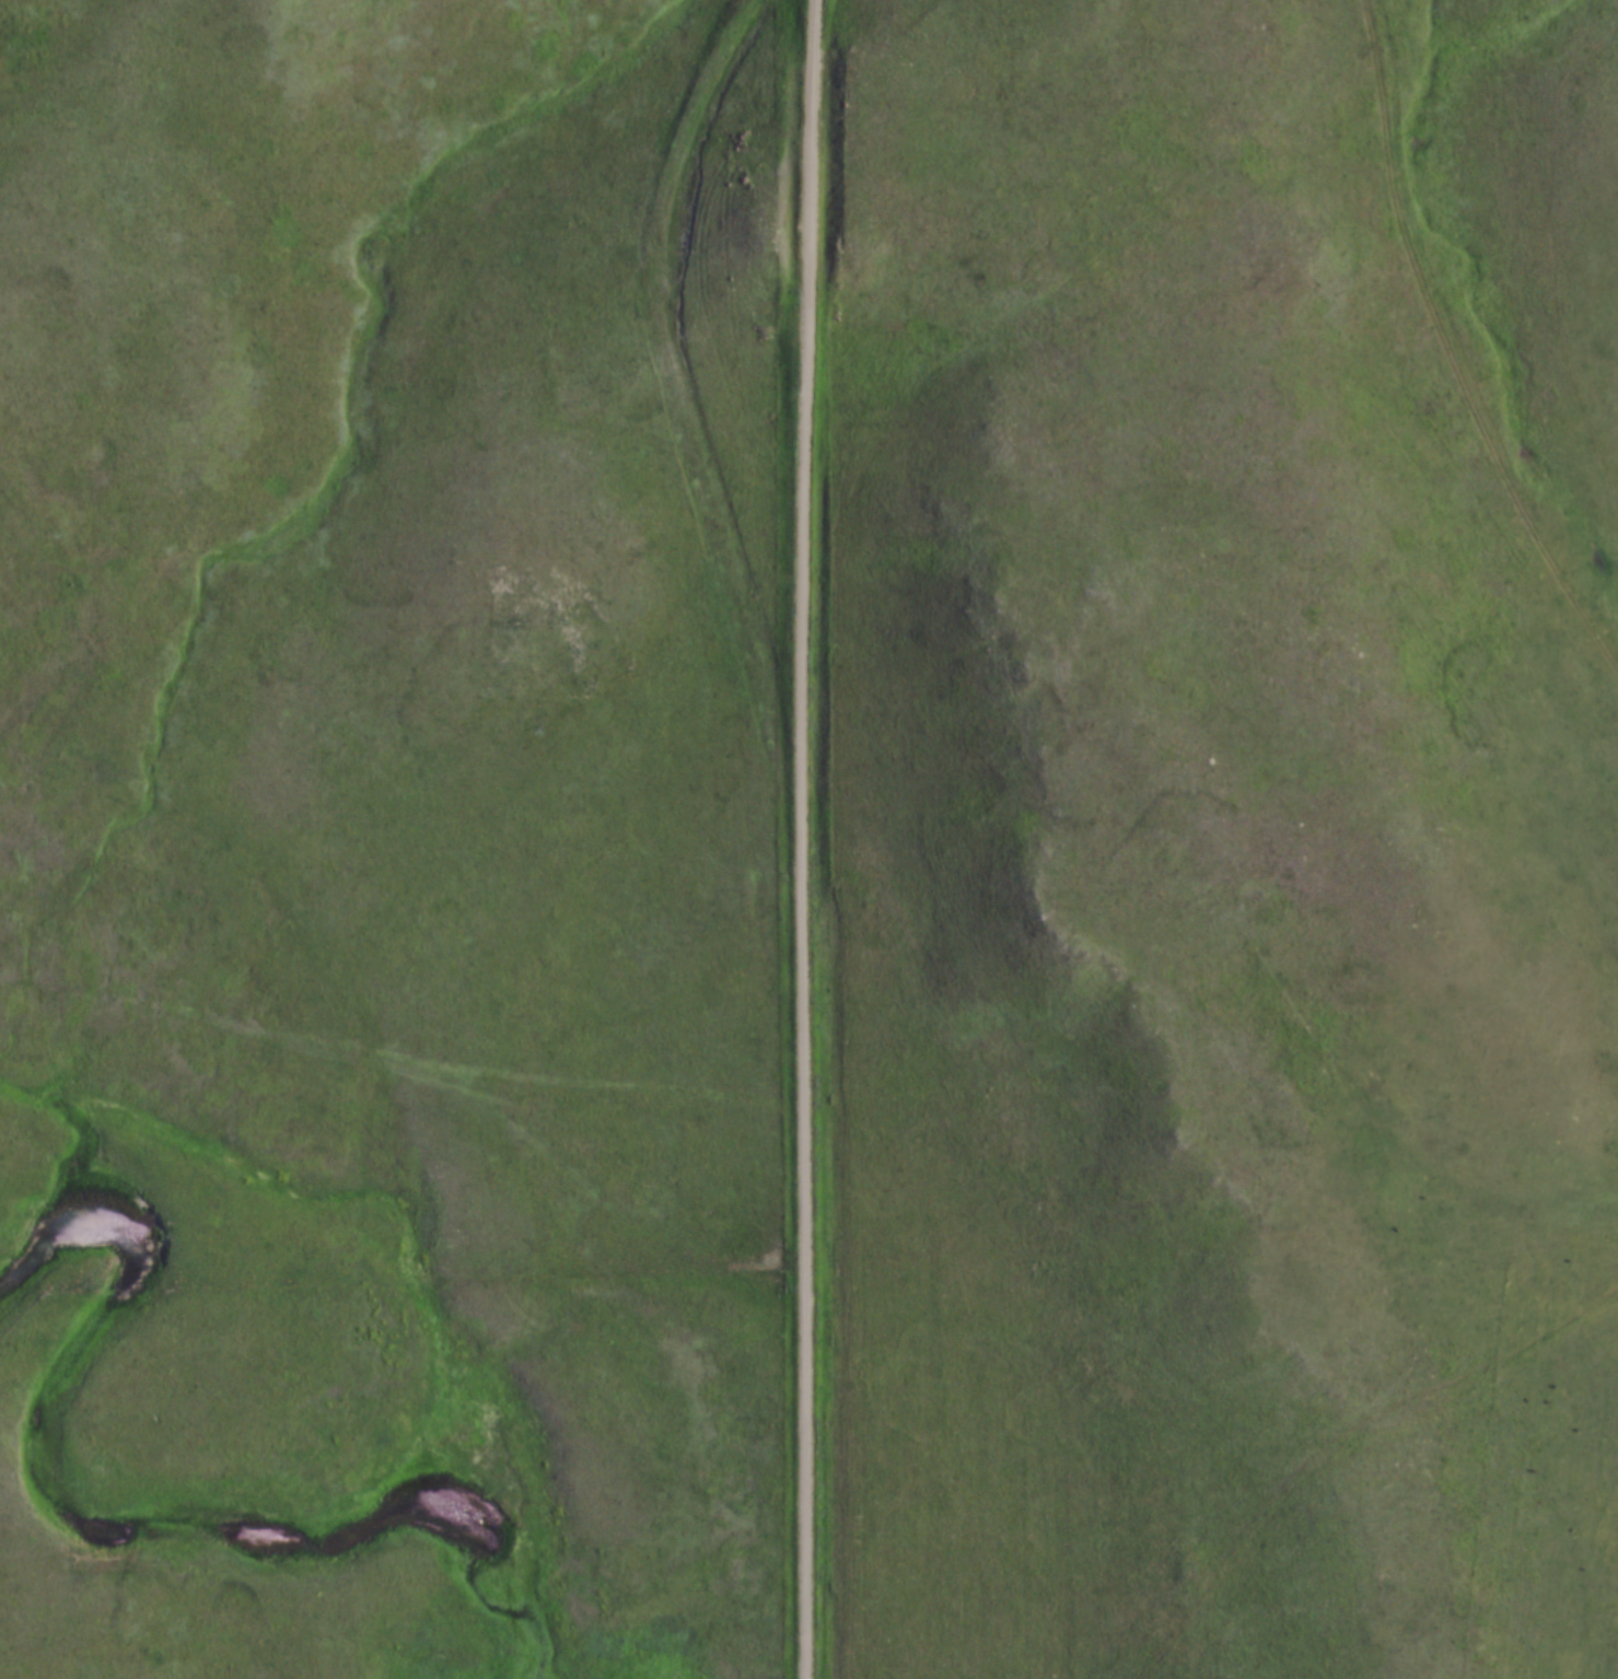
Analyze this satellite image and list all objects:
road: (677, 475)
road: (801, 839)

